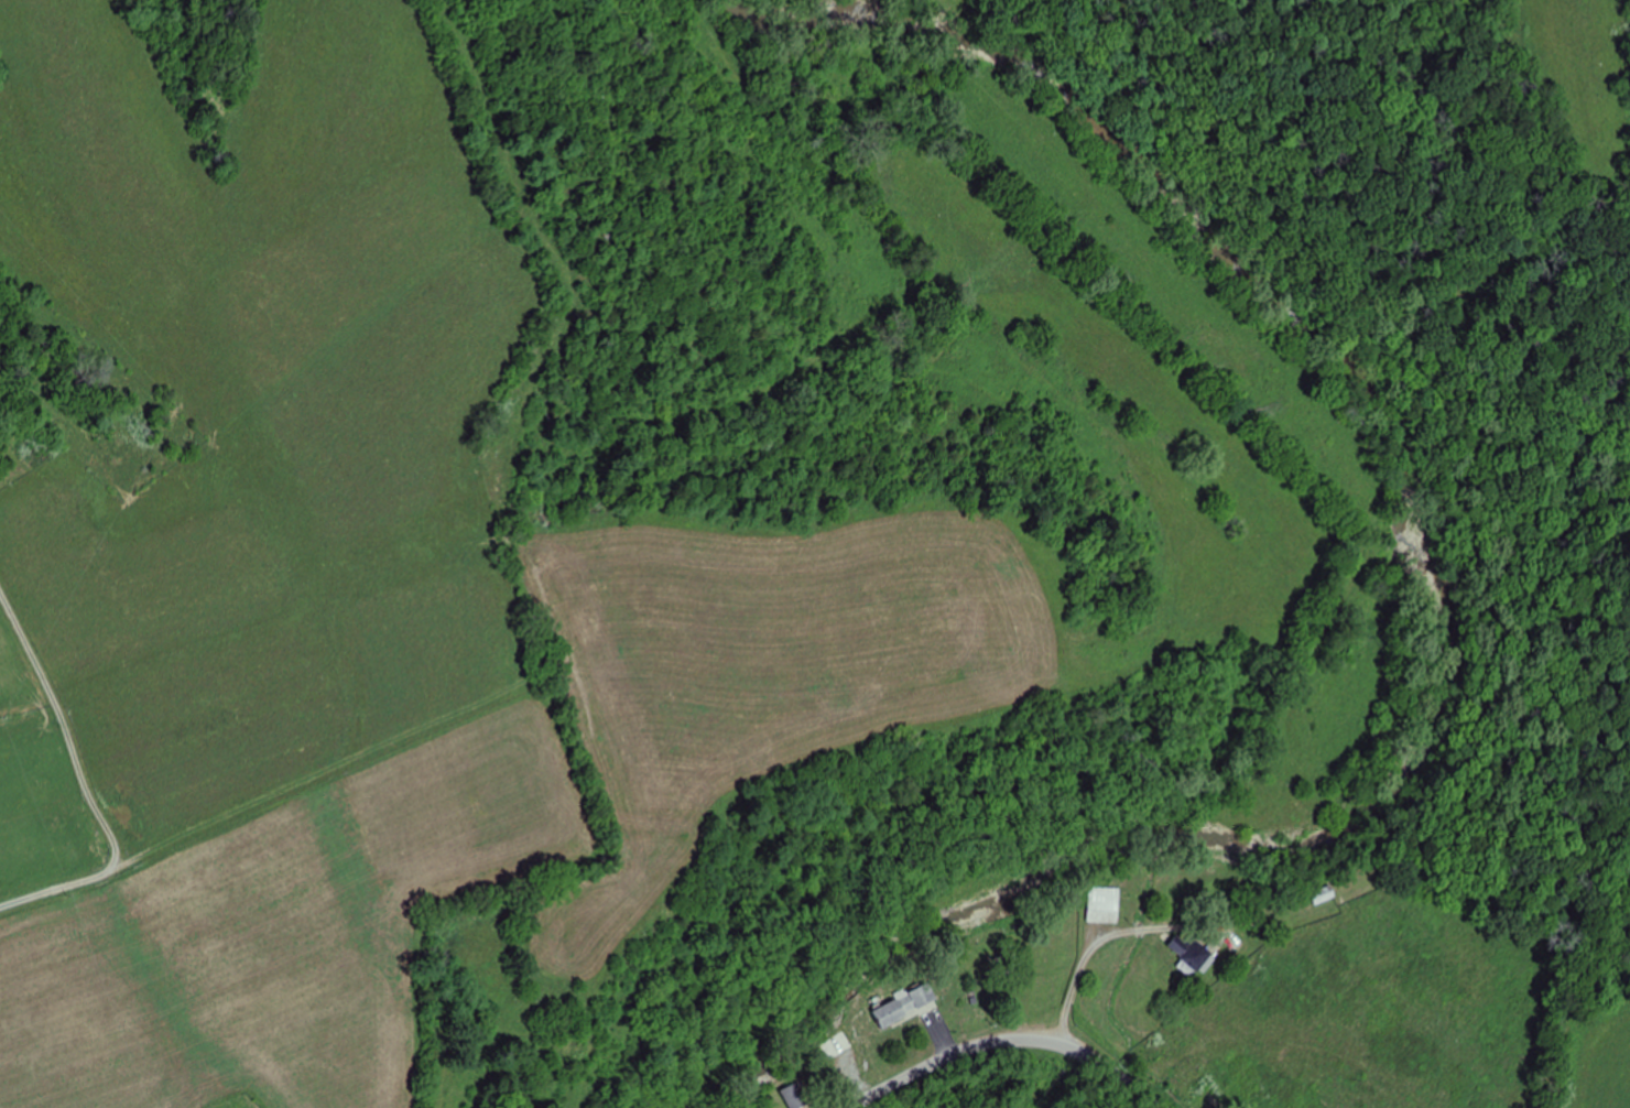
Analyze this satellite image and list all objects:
road: (86, 784)
building: (1322, 893)
building: (1102, 904)
building: (1192, 954)
building: (1045, 981)
building: (905, 1004)
road: (1007, 1040)
building: (837, 1045)

